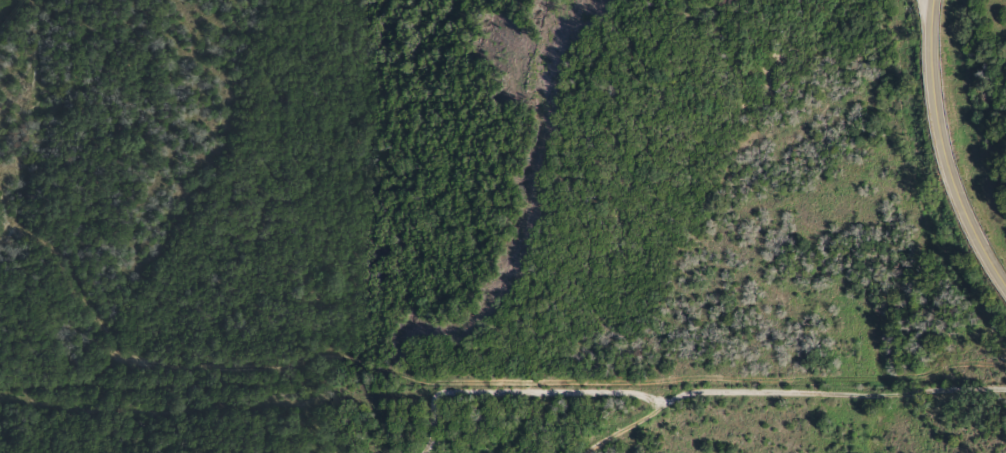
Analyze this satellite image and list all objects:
road: (941, 153)
road: (845, 428)

